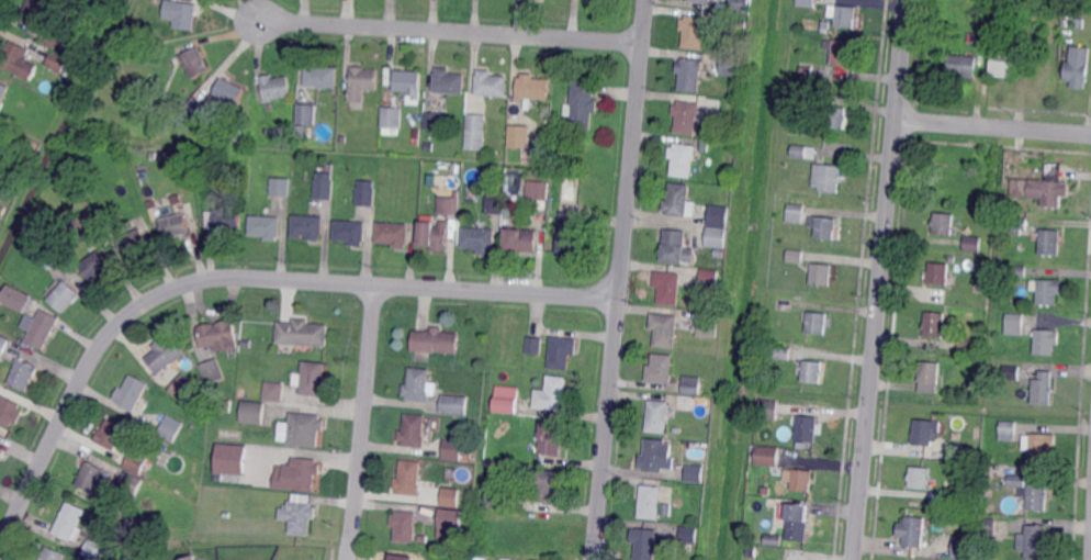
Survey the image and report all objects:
building: (704, 1)
building: (72, 2)
building: (807, 2)
building: (740, 5)
building: (34, 12)
building: (181, 14)
building: (846, 15)
building: (742, 23)
building: (1079, 23)
building: (825, 24)
road: (449, 31)
building: (695, 31)
building: (971, 37)
building: (985, 40)
building: (55, 42)
building: (843, 53)
building: (18, 59)
building: (57, 61)
building: (1002, 61)
building: (194, 63)
building: (964, 64)
building: (732, 65)
building: (1078, 65)
building: (807, 69)
building: (690, 74)
building: (318, 75)
building: (108, 76)
building: (449, 82)
building: (362, 83)
building: (407, 83)
building: (492, 83)
building: (275, 86)
building: (532, 88)
building: (3, 91)
building: (229, 92)
building: (738, 93)
building: (807, 98)
building: (581, 105)
building: (794, 109)
building: (545, 110)
building: (195, 111)
building: (148, 113)
building: (304, 114)
building: (687, 116)
building: (836, 116)
building: (392, 119)
building: (7, 120)
building: (432, 122)
road: (994, 126)
building: (279, 132)
building: (299, 132)
building: (475, 132)
building: (236, 136)
building: (519, 136)
building: (706, 145)
building: (428, 147)
building: (805, 152)
building: (198, 157)
building: (683, 159)
building: (947, 163)
building: (143, 172)
building: (453, 172)
building: (829, 177)
building: (281, 187)
building: (323, 187)
building: (949, 187)
building: (1044, 187)
building: (537, 190)
building: (364, 194)
building: (677, 200)
building: (494, 205)
building: (448, 206)
building: (1, 209)
building: (795, 213)
building: (719, 216)
building: (226, 220)
building: (944, 223)
building: (176, 225)
building: (1019, 225)
building: (266, 226)
building: (308, 226)
building: (88, 227)
building: (826, 228)
building: (351, 232)
building: (570, 233)
building: (394, 234)
building: (434, 236)
building: (716, 238)
building: (480, 239)
building: (134, 240)
building: (521, 240)
building: (1050, 242)
building: (974, 244)
building: (675, 246)
building: (48, 255)
building: (720, 255)
building: (796, 256)
building: (95, 265)
building: (1017, 270)
building: (940, 273)
building: (822, 275)
road: (233, 277)
road: (616, 279)
building: (710, 279)
road: (881, 279)
building: (668, 287)
building: (1048, 291)
building: (979, 296)
building: (64, 298)
building: (14, 299)
building: (685, 303)
building: (785, 304)
building: (818, 323)
building: (935, 324)
building: (709, 325)
building: (1015, 325)
building: (37, 328)
building: (665, 329)
building: (303, 333)
building: (220, 336)
building: (436, 340)
building: (1046, 343)
building: (246, 344)
building: (535, 345)
building: (966, 345)
building: (2, 346)
building: (784, 352)
building: (166, 354)
building: (562, 354)
building: (662, 368)
building: (213, 370)
building: (813, 371)
building: (1012, 372)
building: (23, 373)
building: (930, 377)
building: (314, 379)
building: (418, 385)
building: (694, 387)
building: (184, 388)
building: (1044, 388)
building: (274, 391)
building: (132, 392)
building: (240, 393)
building: (552, 395)
building: (507, 401)
building: (453, 405)
building: (226, 406)
building: (769, 408)
building: (9, 412)
building: (254, 412)
building: (659, 415)
road: (362, 423)
building: (809, 427)
building: (171, 428)
building: (304, 430)
building: (414, 430)
building: (926, 432)
building: (1009, 432)
building: (111, 435)
building: (552, 438)
building: (1041, 446)
building: (452, 450)
building: (1, 453)
building: (955, 455)
building: (656, 457)
building: (230, 458)
building: (768, 458)
building: (987, 459)
building: (136, 461)
building: (487, 463)
building: (297, 474)
building: (695, 474)
building: (91, 477)
building: (409, 478)
building: (919, 478)
building: (802, 480)
building: (1019, 480)
building: (130, 484)
building: (548, 485)
building: (1038, 493)
building: (494, 496)
building: (450, 497)
building: (651, 502)
building: (297, 517)
building: (451, 518)
building: (69, 522)
building: (798, 522)
building: (405, 526)
building: (987, 530)
building: (911, 531)
building: (689, 536)
building: (421, 539)
building: (774, 540)
building: (1034, 541)
building: (645, 545)
building: (961, 548)
building: (93, 549)
building: (53, 555)
building: (185, 558)
building: (479, 559)

